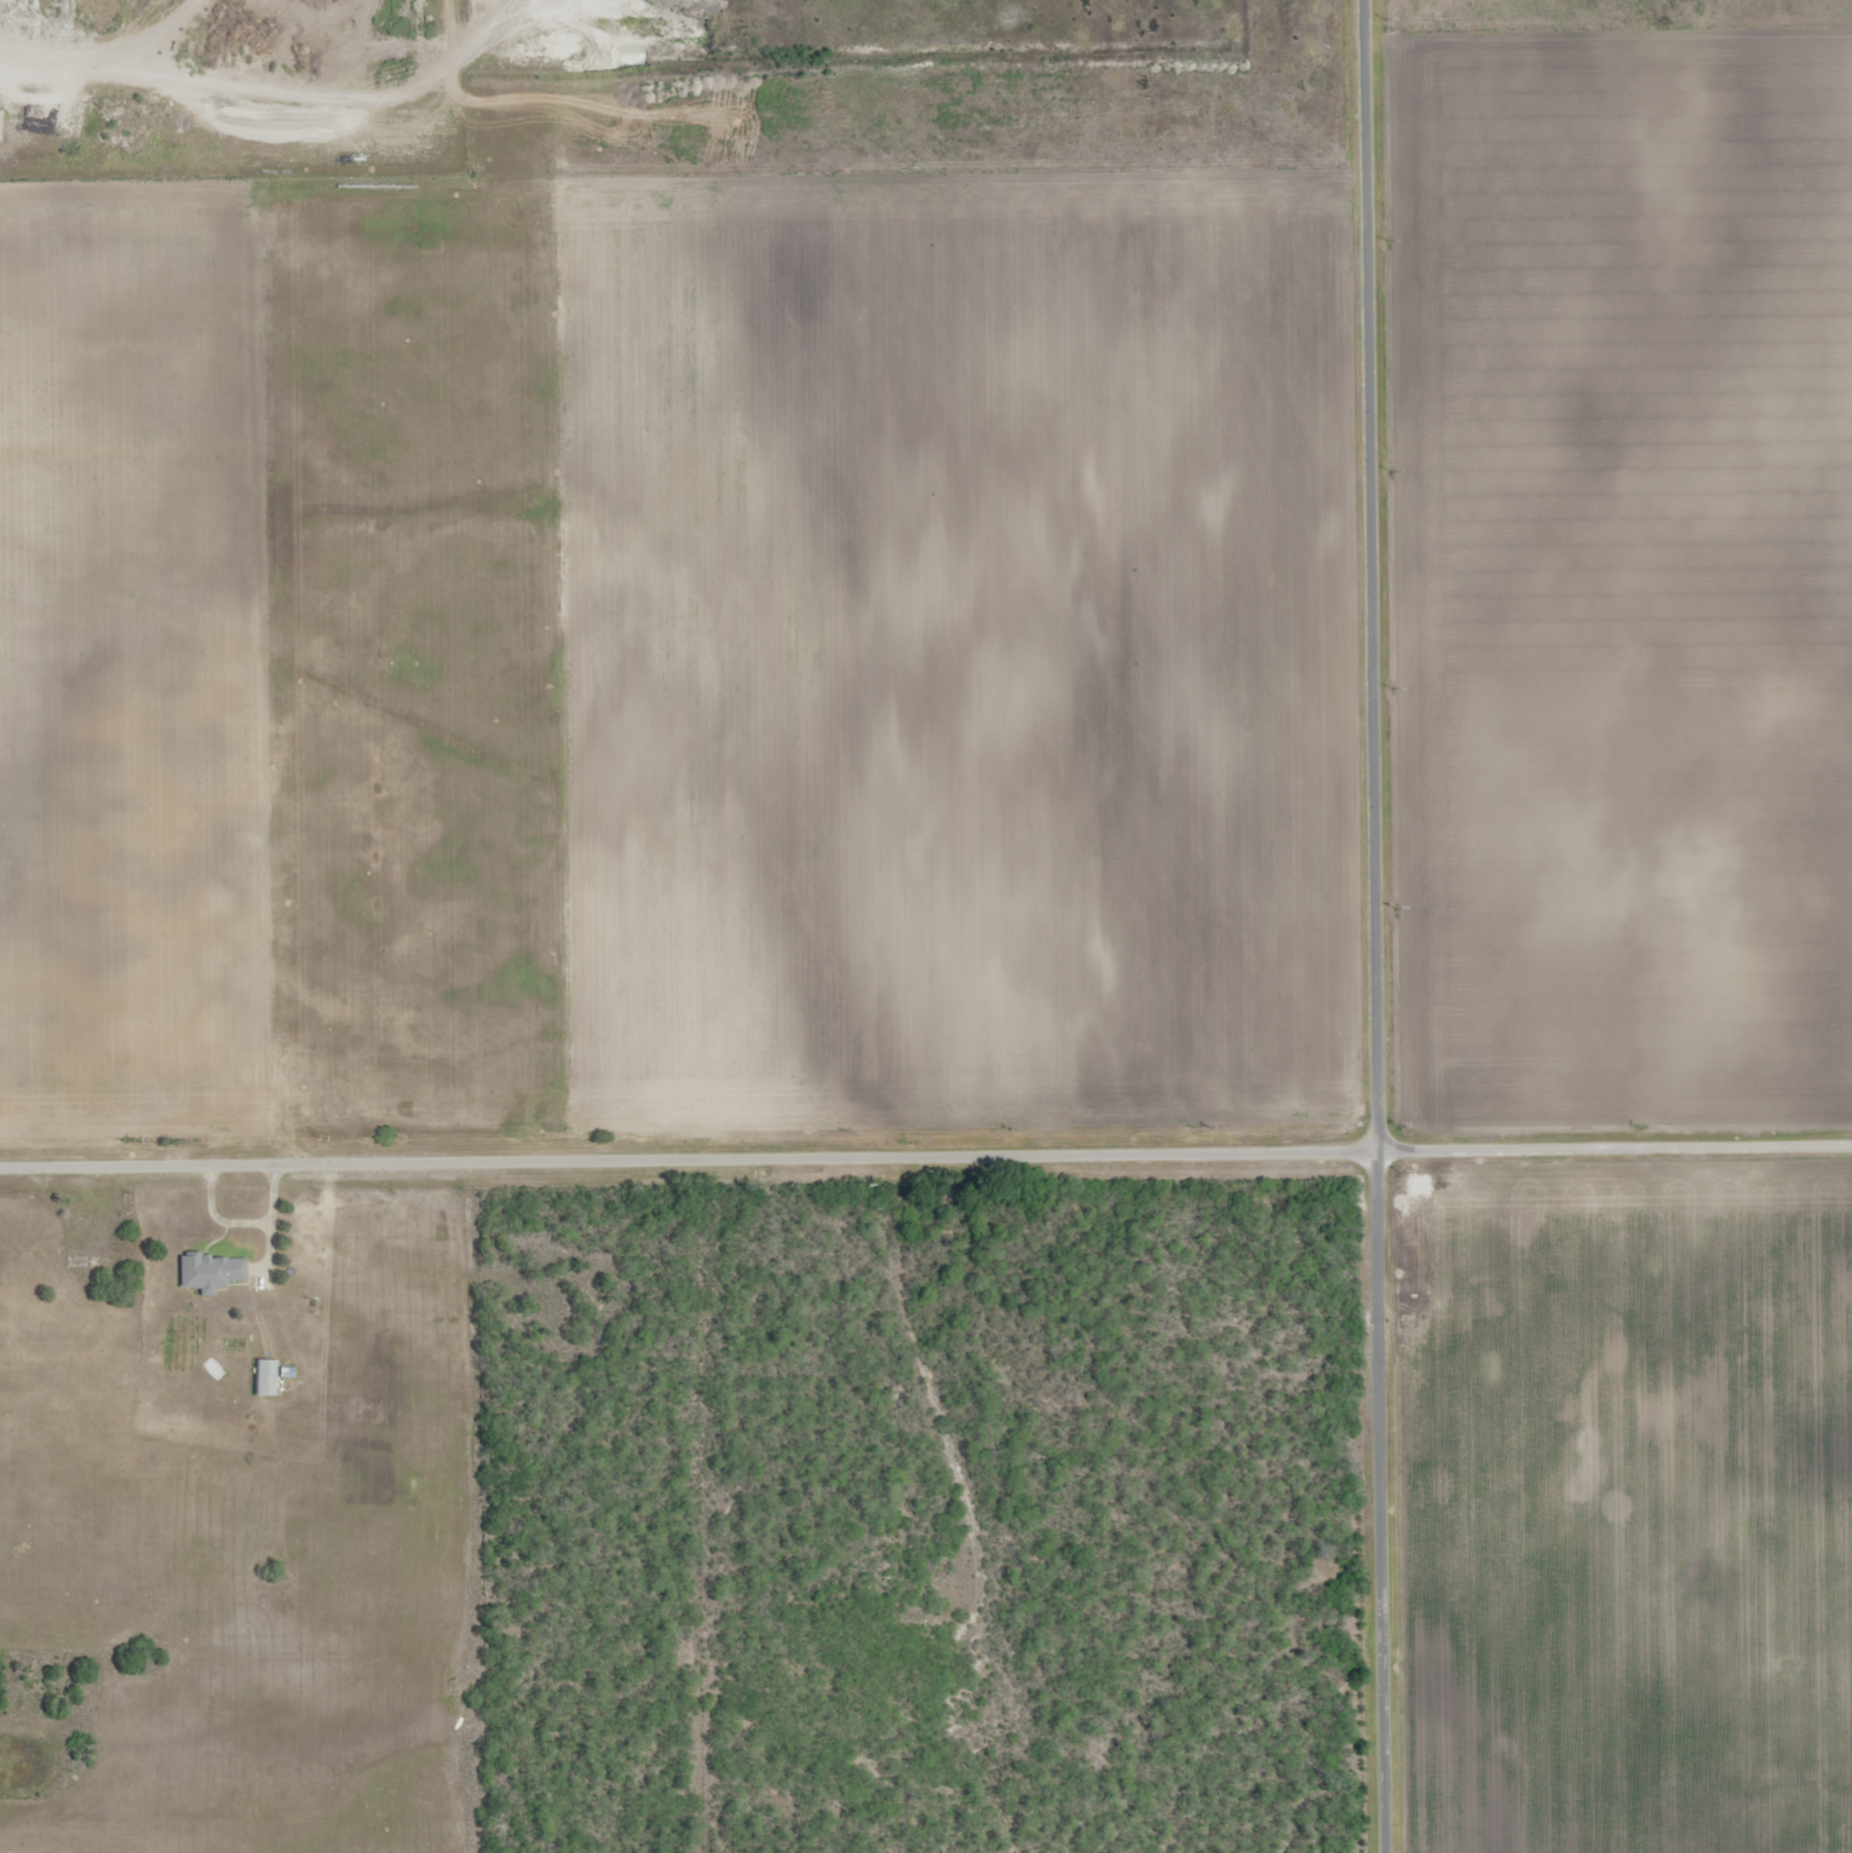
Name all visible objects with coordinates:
road: (1374, 926)
road: (925, 1162)
building: (218, 1270)
building: (263, 1379)

